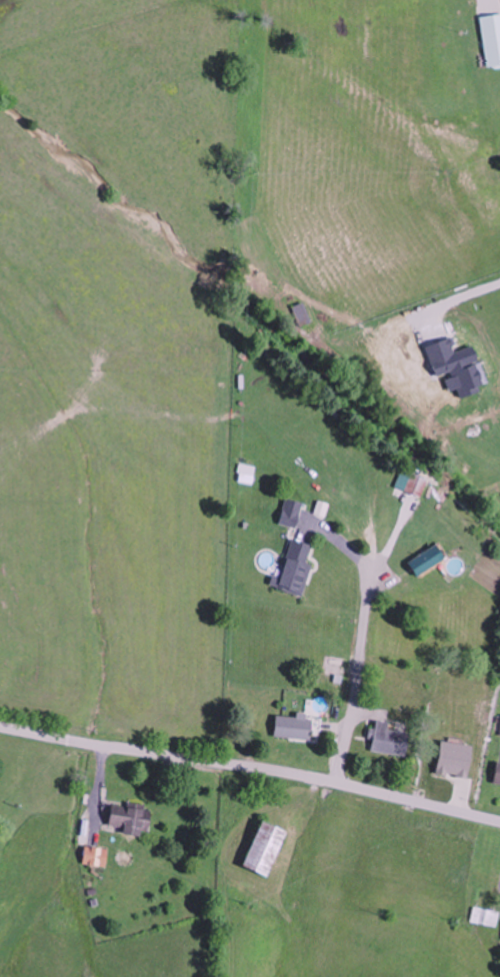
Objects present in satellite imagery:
building: (491, 38)
building: (302, 314)
building: (416, 484)
building: (289, 519)
building: (426, 560)
building: (295, 569)
road: (349, 685)
building: (293, 727)
building: (389, 740)
road: (251, 768)
building: (497, 776)
building: (130, 818)
building: (263, 849)
building: (96, 856)
building: (485, 916)
building: (65, 920)

